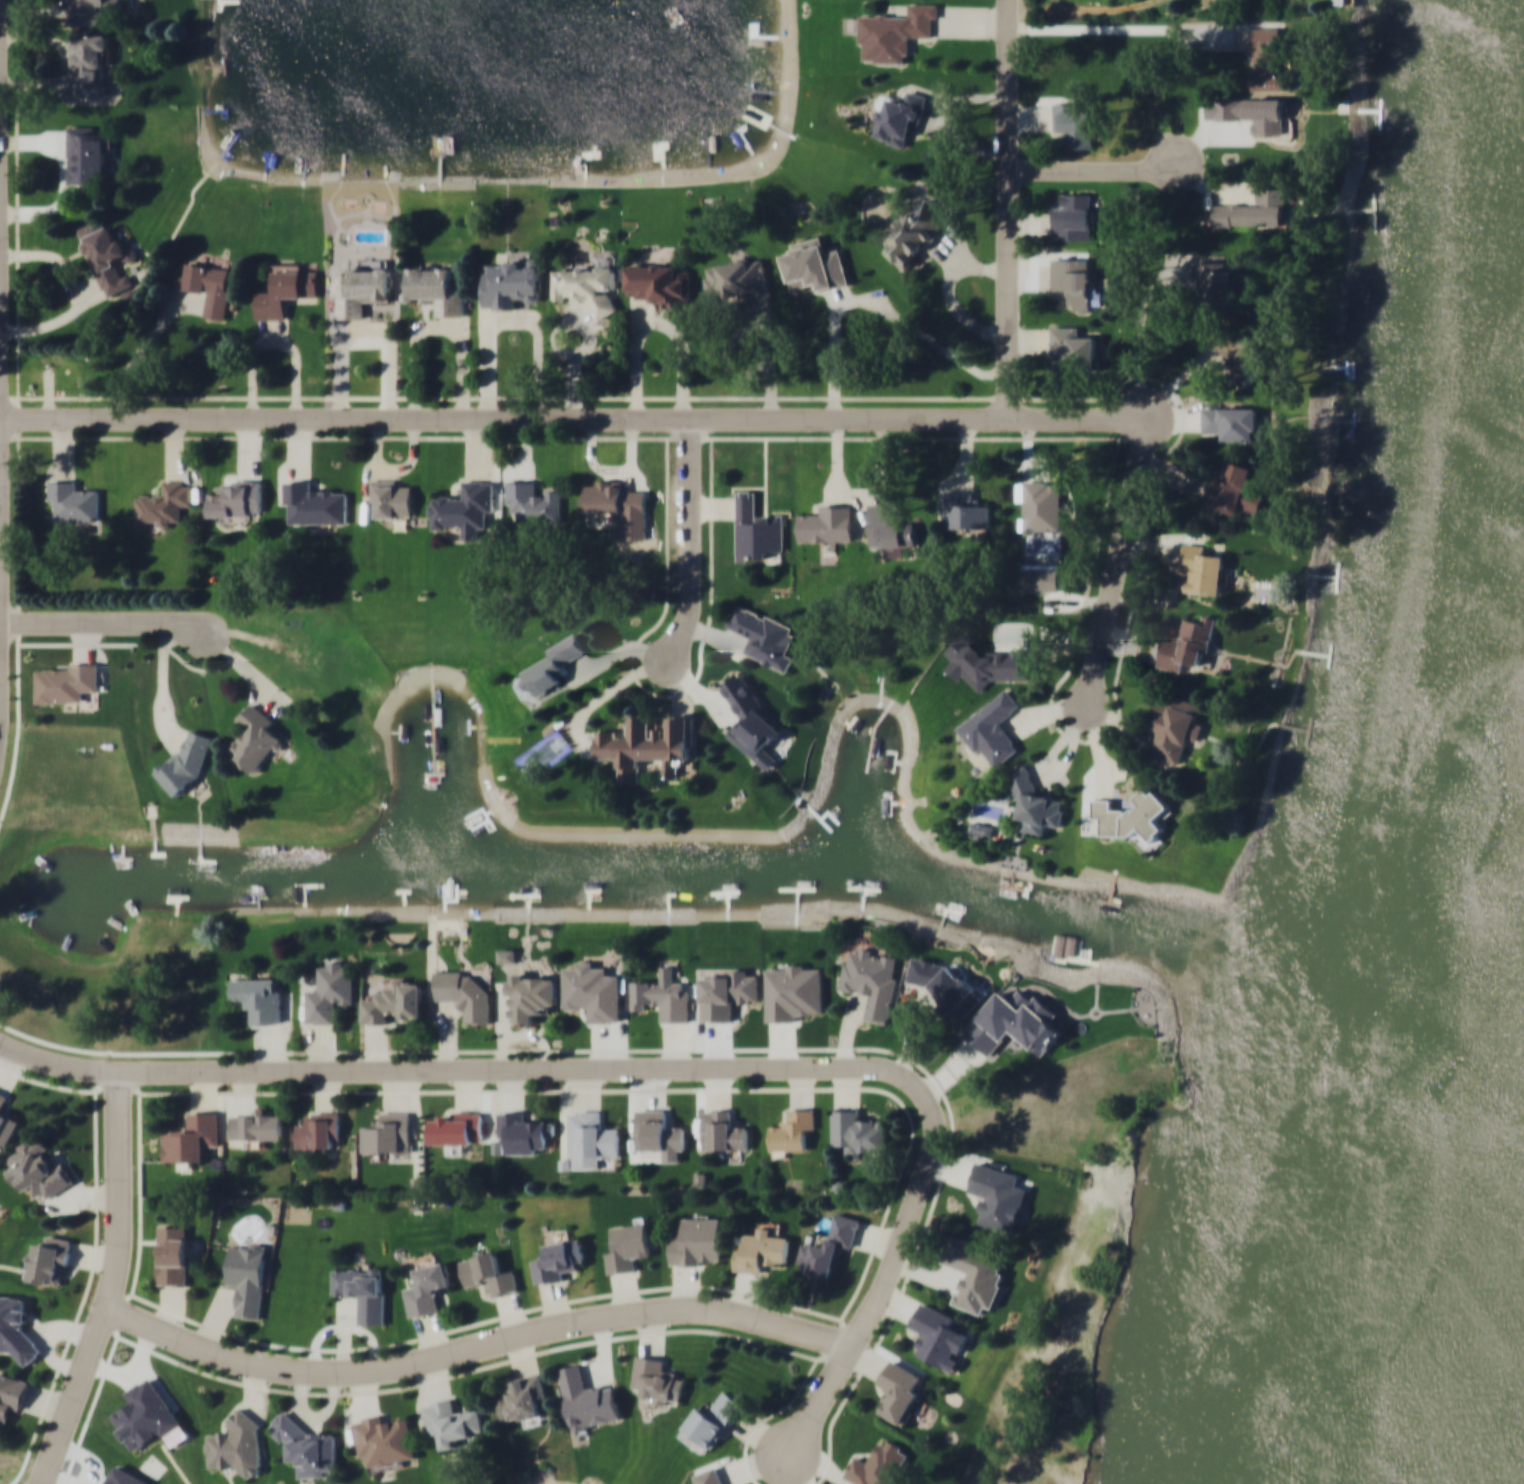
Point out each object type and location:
building: (1338, 1)
building: (95, 11)
road: (1086, 12)
building: (894, 32)
building: (1267, 60)
building: (91, 64)
building: (1261, 114)
building: (898, 118)
building: (1075, 124)
building: (88, 154)
road: (1103, 171)
road: (1009, 209)
building: (1253, 210)
building: (1073, 216)
building: (917, 231)
building: (106, 255)
building: (815, 264)
building: (735, 278)
building: (657, 281)
building: (1075, 282)
building: (512, 283)
building: (1215, 284)
building: (585, 285)
building: (209, 287)
building: (361, 288)
building: (434, 288)
building: (285, 289)
road: (75, 297)
road: (513, 321)
road: (438, 326)
road: (659, 327)
road: (366, 330)
road: (276, 343)
building: (1072, 348)
building: (1237, 353)
road: (137, 356)
road: (574, 419)
building: (1237, 421)
building: (1233, 487)
building: (612, 496)
building: (238, 498)
building: (390, 498)
building: (72, 500)
building: (533, 502)
building: (164, 503)
building: (313, 503)
building: (1042, 504)
building: (464, 509)
building: (963, 509)
building: (827, 524)
building: (757, 528)
building: (893, 531)
road: (691, 549)
road: (1119, 565)
building: (1204, 569)
road: (102, 623)
building: (764, 635)
building: (1188, 644)
building: (552, 664)
building: (65, 681)
building: (1173, 727)
building: (991, 728)
building: (254, 738)
building: (647, 744)
building: (186, 759)
building: (1035, 803)
building: (1132, 815)
building: (982, 828)
building: (873, 979)
building: (948, 985)
building: (330, 988)
building: (793, 989)
building: (464, 993)
building: (531, 995)
building: (260, 997)
building: (663, 998)
building: (394, 1001)
building: (1016, 1022)
road: (3, 1042)
road: (667, 1066)
building: (7, 1120)
building: (257, 1124)
building: (458, 1127)
building: (792, 1128)
building: (319, 1130)
building: (658, 1130)
building: (723, 1130)
building: (524, 1131)
building: (858, 1131)
building: (388, 1132)
building: (193, 1137)
building: (591, 1138)
building: (37, 1167)
building: (999, 1197)
building: (698, 1240)
building: (629, 1245)
building: (828, 1247)
building: (760, 1250)
building: (173, 1254)
building: (50, 1259)
building: (558, 1259)
building: (975, 1271)
building: (488, 1272)
building: (248, 1276)
road: (114, 1282)
building: (427, 1287)
building: (362, 1290)
building: (15, 1323)
building: (938, 1336)
road: (479, 1346)
building: (657, 1380)
building: (899, 1391)
building: (11, 1394)
building: (524, 1399)
building: (588, 1400)
building: (452, 1420)
building: (711, 1421)
building: (385, 1441)
building: (235, 1445)
building: (307, 1445)
building: (880, 1464)
building: (710, 1476)

